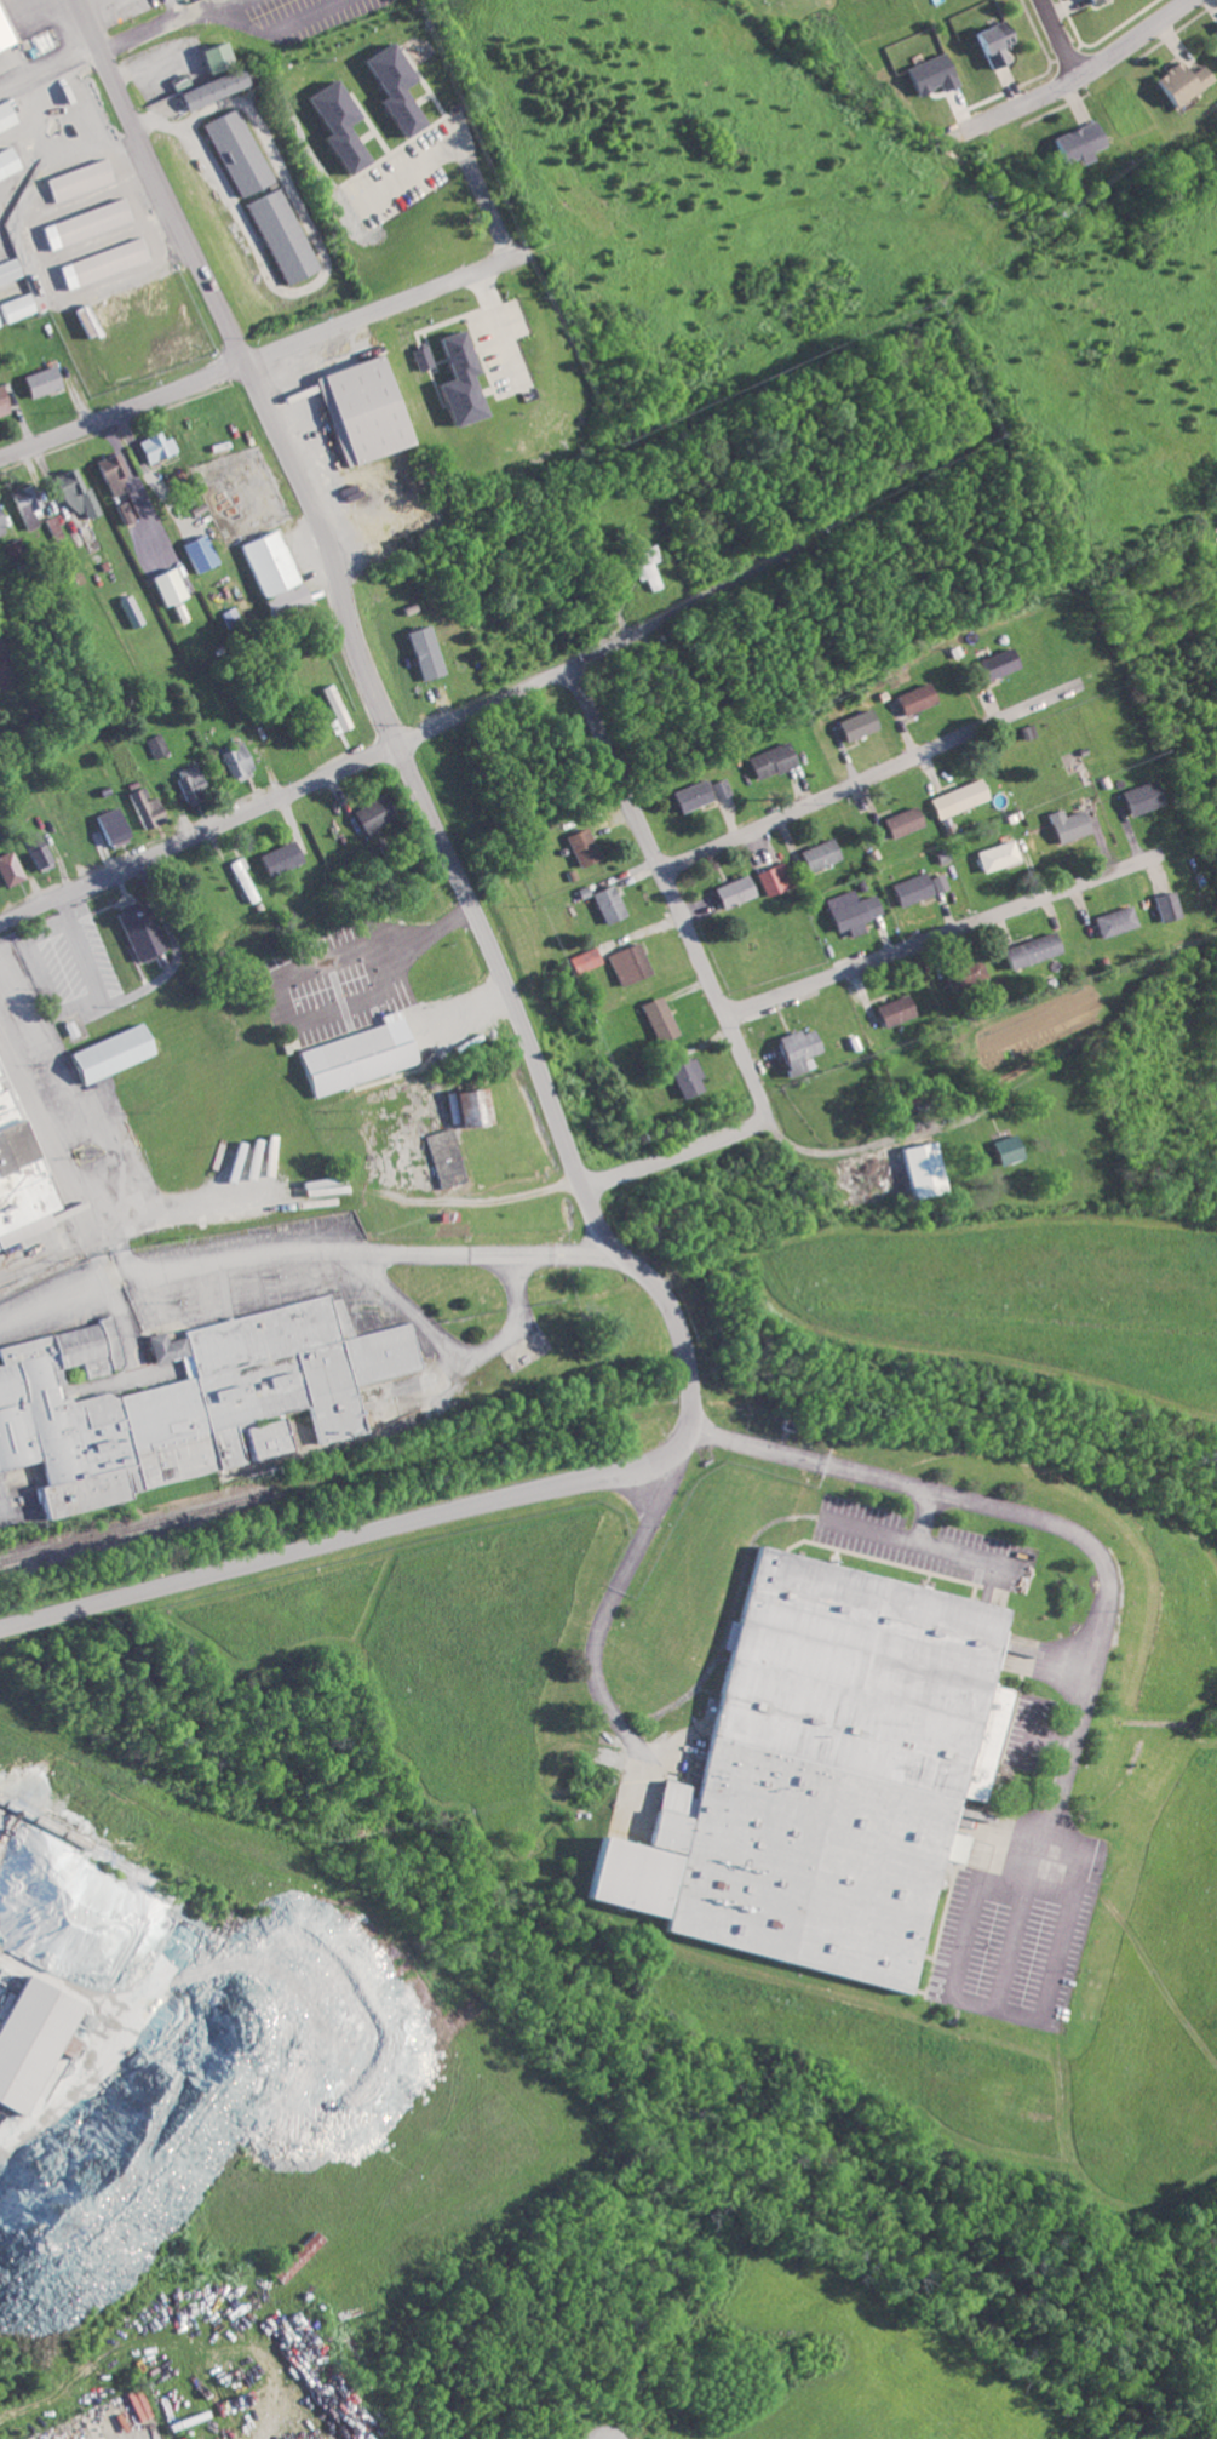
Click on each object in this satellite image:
building: (1087, 1)
road: (235, 4)
road: (160, 25)
road: (281, 28)
building: (1216, 29)
road: (1057, 36)
building: (2, 39)
building: (991, 44)
building: (1213, 53)
building: (206, 57)
road: (1075, 73)
building: (928, 75)
building: (1176, 82)
building: (386, 88)
building: (202, 90)
building: (5, 116)
building: (332, 126)
building: (1074, 143)
road: (463, 148)
building: (231, 153)
building: (6, 162)
building: (73, 181)
building: (80, 224)
building: (276, 236)
building: (97, 263)
building: (8, 271)
building: (16, 308)
road: (258, 354)
building: (417, 356)
road: (243, 367)
building: (450, 378)
building: (38, 380)
building: (1, 406)
building: (355, 408)
building: (153, 446)
building: (107, 471)
building: (71, 493)
building: (23, 504)
building: (122, 511)
building: (1, 523)
building: (195, 551)
building: (642, 566)
building: (269, 571)
building: (162, 585)
building: (419, 651)
building: (992, 663)
building: (909, 698)
building: (333, 708)
building: (853, 723)
building: (154, 744)
road: (384, 748)
building: (233, 758)
building: (765, 760)
building: (186, 779)
road: (855, 783)
building: (714, 788)
building: (688, 795)
building: (1137, 796)
building: (953, 798)
building: (140, 807)
building: (367, 814)
building: (897, 821)
building: (1062, 824)
building: (108, 825)
building: (579, 846)
building: (34, 849)
building: (814, 854)
building: (994, 855)
building: (276, 857)
building: (7, 868)
building: (769, 878)
building: (241, 881)
building: (936, 882)
building: (907, 888)
building: (728, 891)
building: (603, 903)
building: (1164, 905)
building: (846, 910)
building: (1110, 921)
building: (134, 931)
road: (938, 934)
building: (1028, 950)
building: (580, 960)
building: (626, 963)
building: (961, 973)
road: (710, 978)
building: (891, 1009)
building: (655, 1018)
building: (792, 1049)
building: (105, 1053)
building: (354, 1055)
building: (682, 1076)
building: (465, 1106)
road: (50, 1129)
building: (1000, 1149)
road: (854, 1151)
building: (440, 1157)
building: (918, 1168)
building: (17, 1180)
road: (472, 1208)
road: (394, 1250)
road: (457, 1349)
building: (185, 1395)
road: (688, 1410)
building: (257, 1438)
road: (811, 1456)
railway: (286, 1487)
road: (930, 1518)
road: (922, 1542)
road: (609, 1607)
road: (1083, 1691)
building: (817, 1762)
railway: (74, 1837)
building: (28, 2038)
building: (295, 2256)

